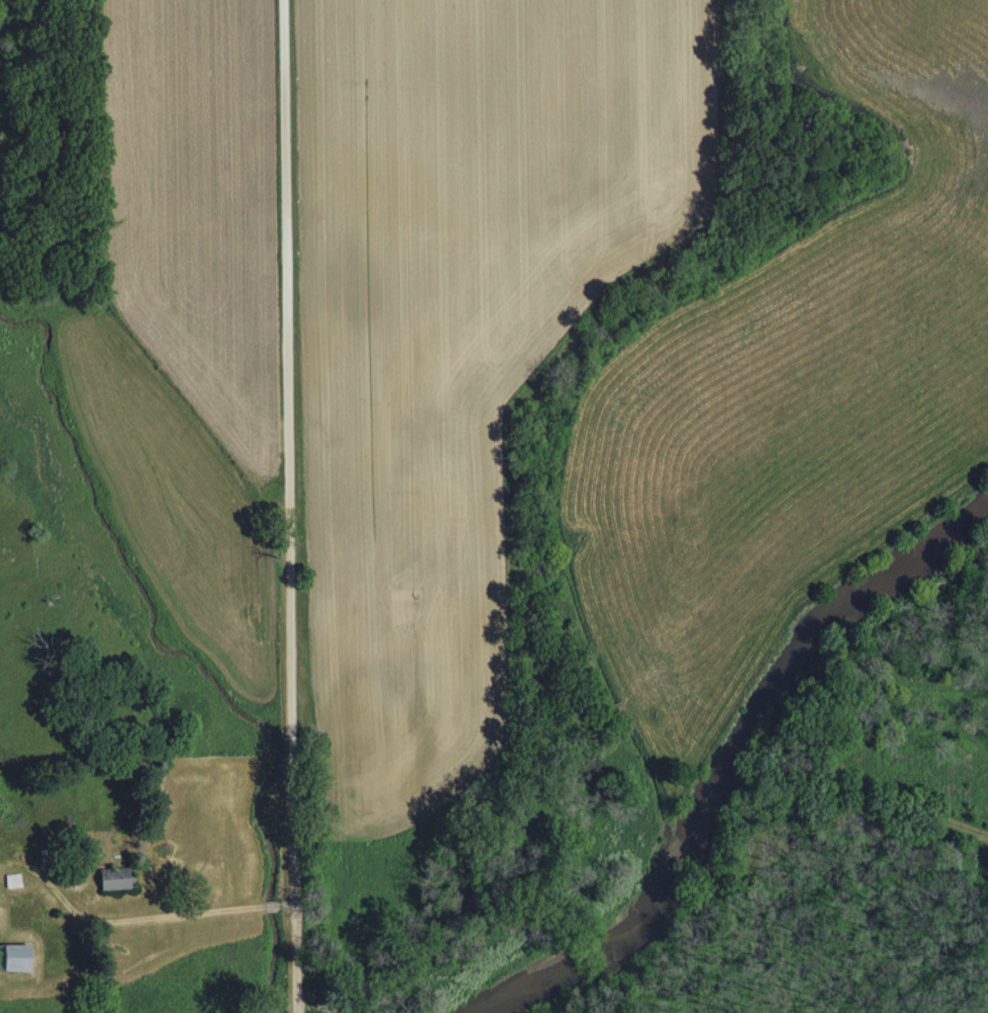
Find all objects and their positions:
road: (295, 506)
building: (116, 881)
road: (173, 917)
building: (15, 960)

